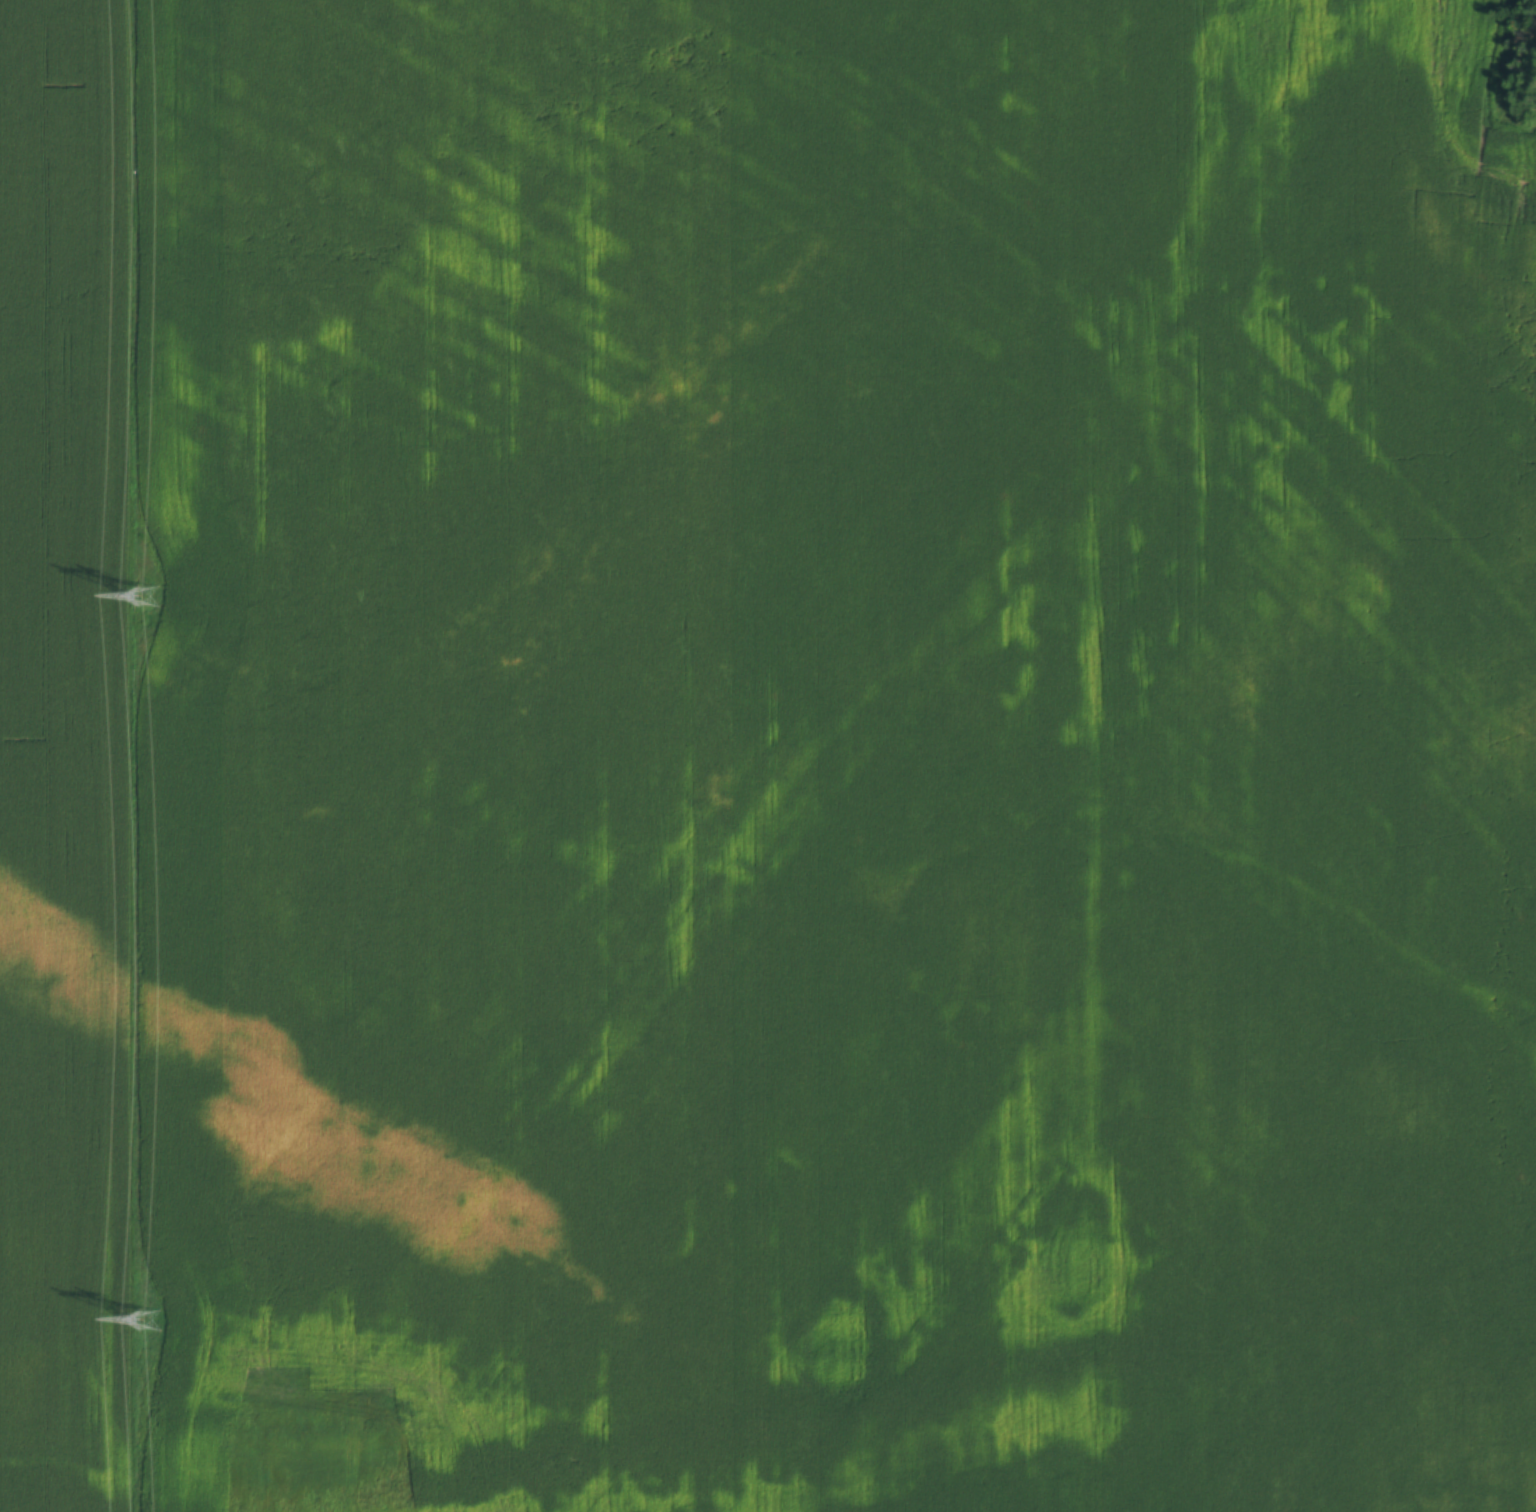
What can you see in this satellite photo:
power tower: (148, 596)
power tower: (152, 1325)

